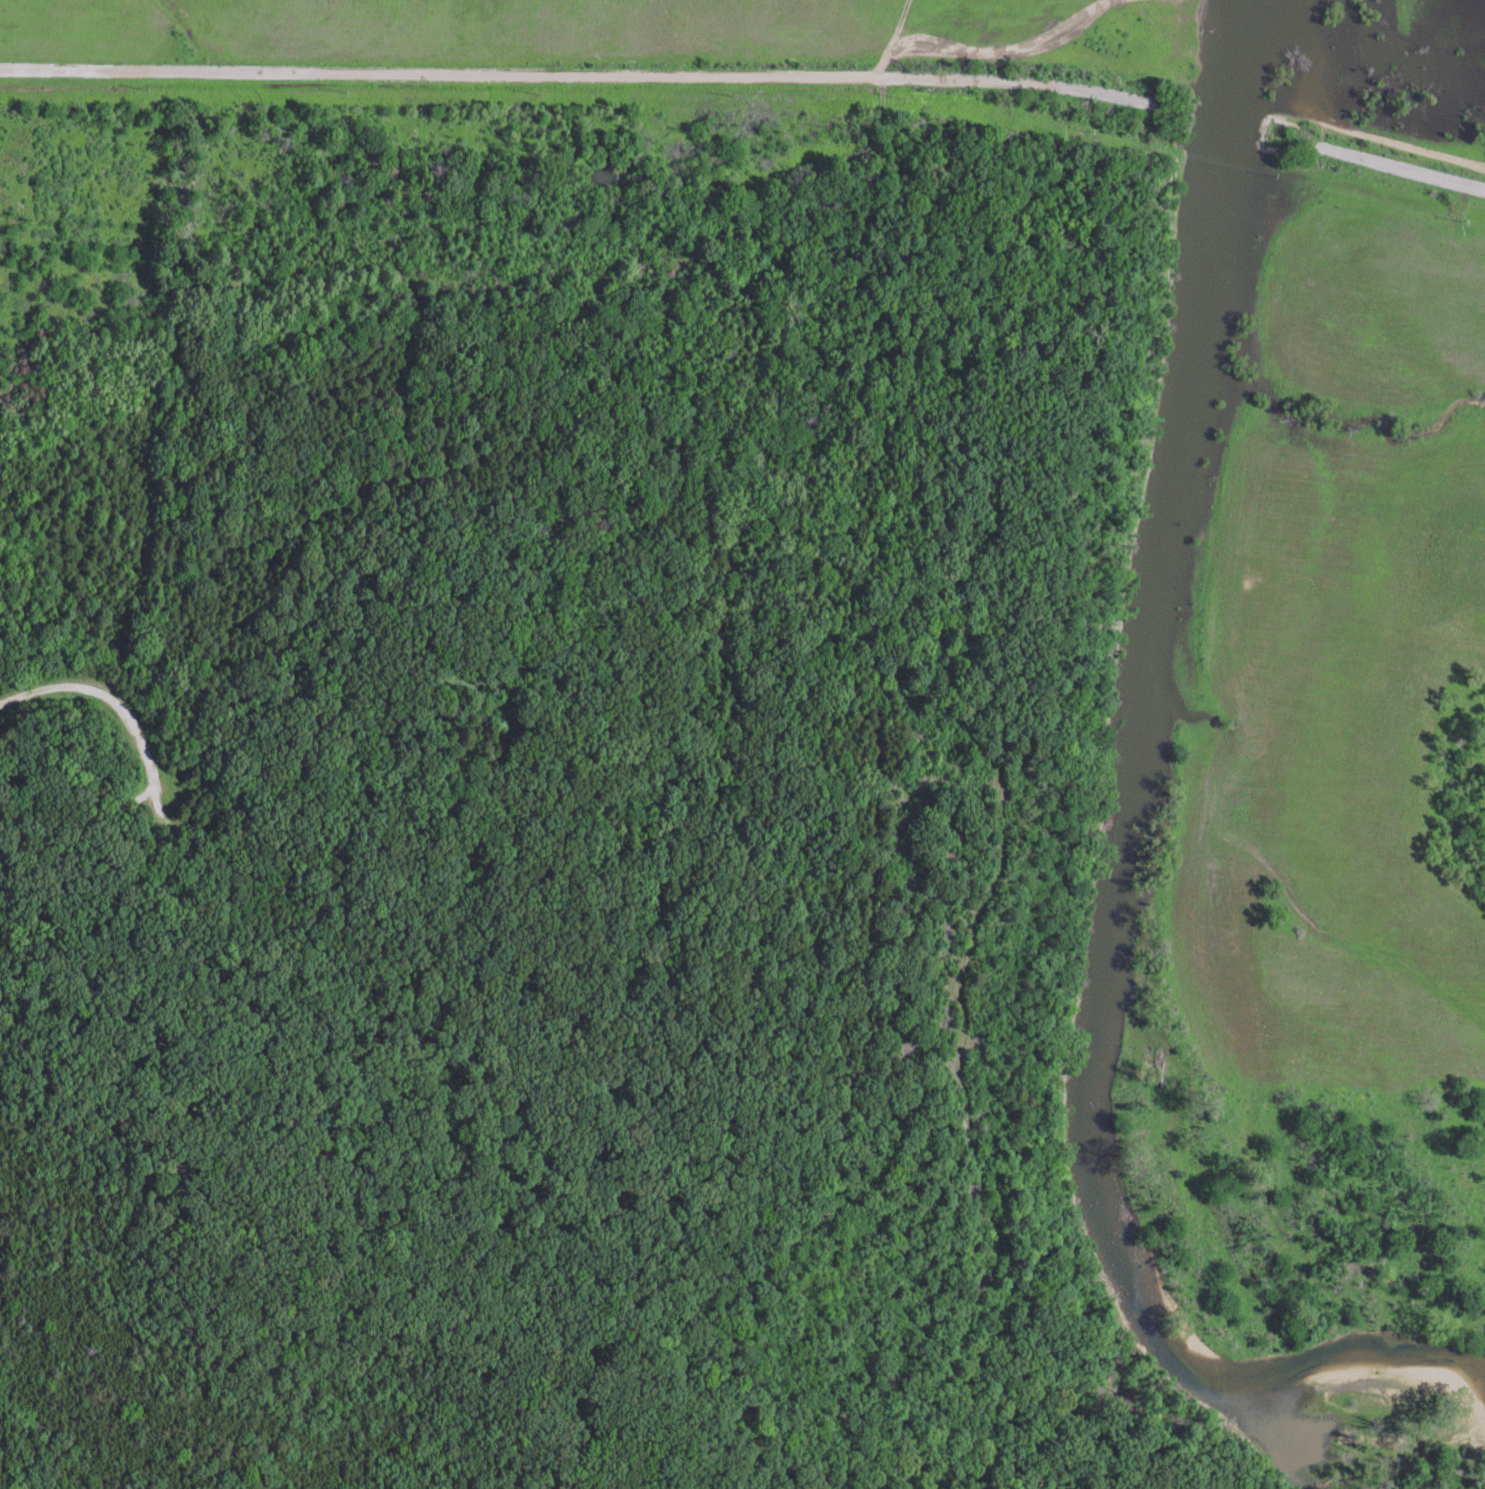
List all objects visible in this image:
road: (572, 74)
road: (590, 495)
road: (103, 689)

